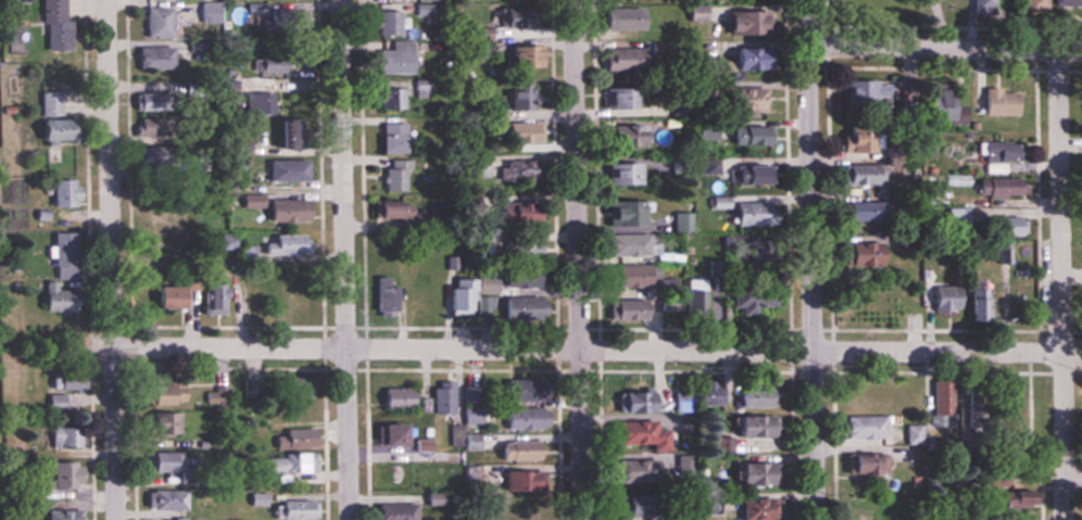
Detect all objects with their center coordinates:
building: (427, 0)
building: (860, 1)
building: (1061, 2)
building: (980, 4)
building: (1032, 5)
building: (280, 20)
building: (618, 20)
building: (506, 21)
building: (743, 21)
building: (155, 23)
building: (387, 23)
building: (53, 25)
road: (945, 49)
building: (477, 50)
building: (520, 56)
building: (151, 59)
building: (744, 59)
building: (393, 60)
building: (619, 60)
building: (267, 62)
building: (867, 90)
building: (519, 94)
building: (619, 98)
building: (394, 99)
building: (742, 100)
building: (933, 102)
building: (997, 102)
building: (257, 103)
building: (50, 104)
building: (51, 130)
building: (516, 132)
building: (285, 134)
building: (624, 135)
building: (391, 138)
building: (854, 141)
building: (928, 144)
building: (994, 152)
building: (153, 158)
building: (280, 170)
building: (516, 172)
building: (622, 173)
building: (858, 174)
building: (747, 175)
building: (392, 178)
building: (996, 187)
building: (63, 193)
building: (250, 202)
building: (383, 208)
building: (858, 210)
building: (285, 211)
building: (621, 213)
building: (748, 213)
building: (513, 214)
building: (159, 215)
building: (679, 221)
building: (998, 226)
building: (227, 241)
building: (284, 245)
building: (630, 245)
building: (520, 249)
building: (1002, 251)
building: (154, 253)
building: (861, 253)
building: (247, 254)
building: (63, 256)
road: (111, 259)
road: (342, 259)
road: (577, 259)
road: (810, 259)
building: (627, 277)
building: (517, 278)
building: (485, 283)
road: (1061, 284)
building: (420, 292)
building: (750, 294)
building: (210, 295)
building: (382, 296)
building: (939, 296)
building: (166, 297)
building: (461, 297)
building: (54, 299)
building: (295, 301)
building: (693, 303)
building: (666, 304)
building: (978, 304)
building: (518, 308)
building: (625, 310)
road: (596, 351)
building: (67, 382)
building: (514, 392)
building: (160, 395)
building: (1007, 395)
building: (860, 397)
building: (393, 399)
building: (441, 399)
building: (753, 399)
building: (939, 399)
building: (55, 403)
building: (634, 403)
building: (294, 415)
building: (517, 418)
building: (162, 424)
building: (752, 427)
building: (861, 428)
building: (637, 435)
building: (913, 435)
building: (390, 437)
building: (65, 439)
building: (294, 441)
building: (514, 451)
building: (160, 462)
building: (857, 464)
building: (388, 472)
building: (634, 472)
building: (750, 474)
building: (62, 477)
building: (993, 477)
building: (519, 482)
road: (1072, 482)
building: (1009, 499)
building: (163, 500)
building: (707, 505)
building: (631, 507)
building: (292, 509)
building: (756, 509)
building: (865, 509)
building: (392, 511)
building: (515, 511)
building: (63, 515)
building: (1022, 518)

